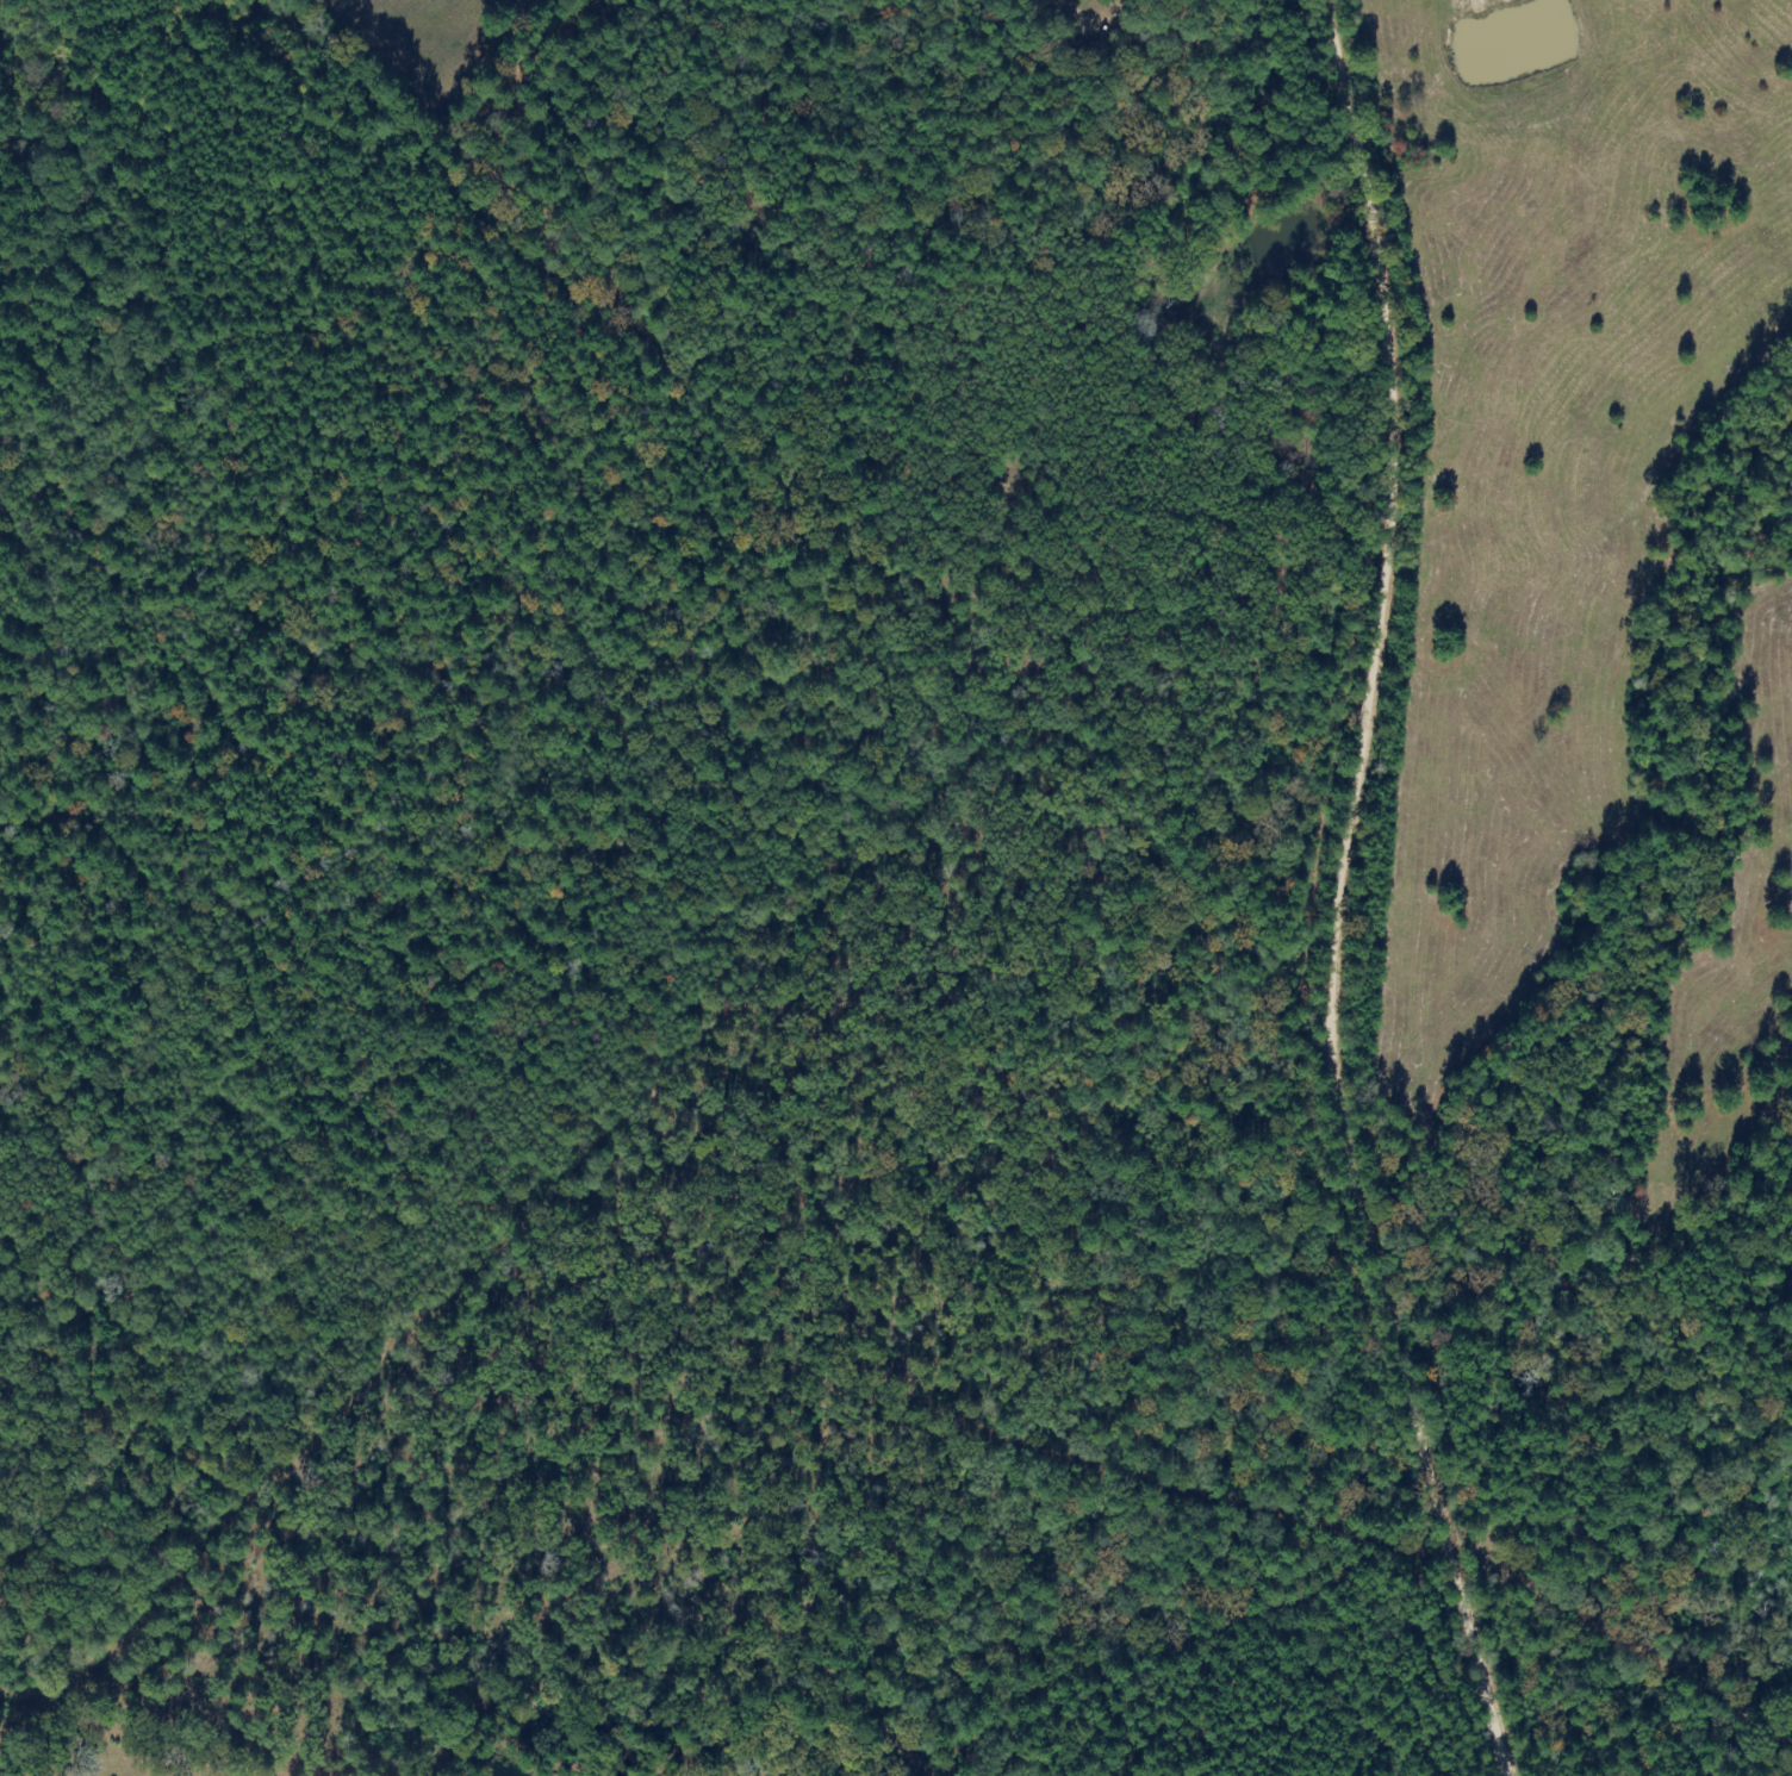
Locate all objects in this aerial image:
road: (1054, 94)
road: (1324, 897)

